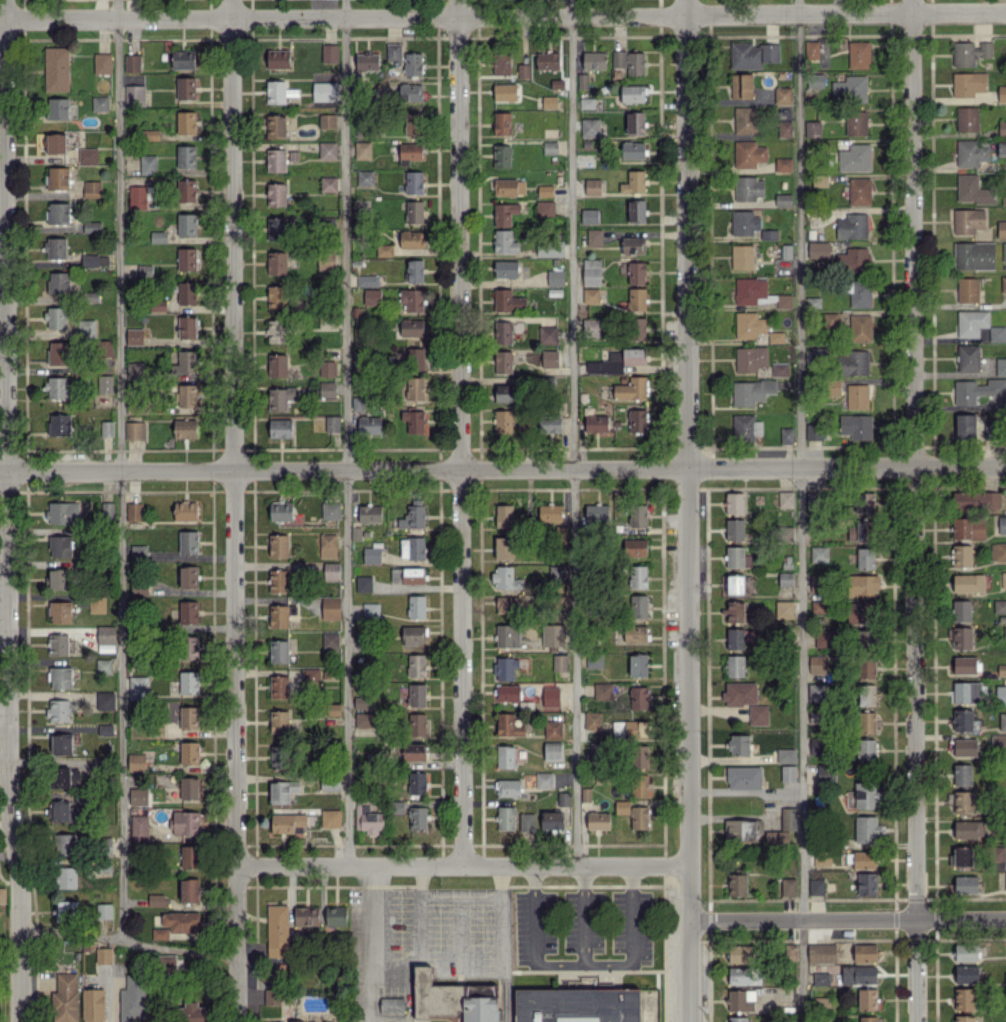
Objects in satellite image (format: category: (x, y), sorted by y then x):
road: (504, 15)
building: (811, 49)
building: (393, 51)
building: (969, 52)
building: (330, 53)
building: (752, 54)
building: (858, 54)
building: (278, 58)
building: (183, 59)
building: (594, 60)
building: (367, 61)
building: (547, 61)
building: (629, 61)
building: (132, 62)
building: (102, 63)
building: (501, 63)
building: (413, 64)
building: (56, 68)
building: (815, 80)
building: (968, 83)
building: (741, 86)
building: (185, 88)
building: (849, 89)
building: (278, 91)
building: (324, 91)
building: (411, 92)
building: (504, 92)
building: (632, 93)
building: (1001, 93)
building: (134, 95)
building: (782, 95)
building: (549, 102)
building: (99, 103)
building: (57, 108)
building: (967, 118)
building: (327, 120)
building: (744, 120)
building: (185, 122)
building: (635, 122)
building: (856, 122)
building: (413, 123)
building: (502, 123)
building: (276, 126)
building: (590, 127)
building: (1002, 127)
building: (784, 128)
building: (813, 129)
building: (150, 134)
building: (56, 143)
building: (549, 147)
building: (1001, 149)
building: (327, 150)
building: (362, 150)
building: (632, 150)
building: (410, 153)
building: (970, 153)
building: (749, 154)
building: (501, 155)
building: (88, 156)
building: (186, 156)
building: (855, 158)
building: (276, 160)
building: (148, 164)
building: (783, 164)
building: (365, 177)
building: (57, 178)
building: (413, 182)
building: (633, 182)
building: (328, 184)
building: (509, 187)
building: (592, 187)
building: (748, 188)
building: (92, 189)
building: (186, 190)
building: (545, 190)
building: (972, 190)
building: (859, 191)
building: (276, 194)
building: (140, 196)
building: (1004, 196)
building: (783, 200)
building: (544, 208)
building: (636, 210)
building: (414, 211)
building: (58, 212)
building: (504, 213)
building: (589, 216)
building: (968, 220)
building: (745, 222)
building: (186, 224)
building: (852, 226)
building: (92, 227)
building: (279, 228)
building: (1001, 229)
building: (158, 237)
building: (594, 237)
building: (411, 239)
building: (504, 241)
building: (633, 245)
building: (55, 247)
building: (550, 248)
building: (384, 250)
building: (820, 250)
building: (1004, 251)
building: (973, 255)
building: (742, 257)
building: (186, 259)
building: (857, 259)
building: (94, 260)
building: (277, 262)
building: (505, 268)
building: (144, 270)
building: (414, 270)
building: (591, 272)
building: (636, 273)
building: (555, 277)
building: (367, 280)
building: (58, 282)
building: (1003, 284)
building: (967, 289)
building: (752, 291)
building: (186, 293)
building: (859, 293)
building: (590, 295)
building: (277, 296)
building: (371, 296)
building: (412, 299)
building: (635, 299)
building: (506, 300)
building: (784, 301)
building: (55, 317)
building: (831, 319)
building: (971, 322)
building: (749, 325)
building: (186, 326)
building: (411, 327)
building: (590, 327)
building: (860, 327)
building: (88, 328)
building: (636, 328)
building: (277, 330)
building: (502, 332)
building: (547, 334)
building: (997, 334)
building: (134, 336)
building: (105, 348)
building: (59, 352)
building: (633, 356)
building: (549, 358)
building: (750, 358)
building: (968, 358)
building: (416, 359)
building: (185, 362)
building: (854, 362)
building: (607, 364)
building: (277, 365)
building: (1001, 367)
building: (327, 368)
building: (779, 369)
building: (134, 370)
building: (105, 384)
building: (56, 387)
building: (833, 387)
building: (415, 388)
building: (631, 388)
building: (327, 389)
building: (977, 390)
building: (506, 391)
building: (751, 391)
building: (189, 395)
building: (283, 396)
building: (857, 396)
building: (637, 420)
building: (413, 421)
building: (503, 421)
building: (332, 423)
building: (596, 423)
building: (59, 424)
building: (549, 424)
building: (369, 425)
building: (856, 426)
building: (965, 426)
building: (745, 427)
building: (107, 428)
building: (185, 428)
building: (280, 428)
building: (135, 430)
building: (813, 431)
building: (991, 431)
road: (346, 432)
road: (460, 432)
road: (572, 433)
building: (786, 435)
road: (503, 466)
road: (116, 469)
building: (785, 499)
building: (975, 500)
building: (734, 502)
building: (863, 502)
building: (107, 509)
building: (185, 510)
building: (330, 510)
road: (687, 510)
road: (800, 510)
road: (5, 511)
building: (134, 511)
road: (234, 511)
building: (280, 511)
road: (914, 511)
building: (63, 512)
building: (596, 512)
building: (369, 513)
building: (550, 513)
building: (413, 515)
building: (637, 515)
building: (504, 516)
building: (1002, 524)
building: (968, 528)
building: (734, 529)
building: (859, 532)
building: (188, 542)
building: (278, 545)
building: (327, 545)
building: (60, 546)
building: (412, 547)
building: (634, 547)
building: (998, 551)
building: (138, 552)
building: (819, 554)
building: (371, 555)
building: (961, 555)
building: (734, 556)
building: (865, 558)
building: (331, 570)
building: (556, 572)
building: (407, 575)
building: (188, 576)
building: (638, 576)
building: (505, 578)
building: (58, 579)
building: (785, 579)
building: (1003, 579)
building: (278, 580)
building: (968, 582)
building: (364, 583)
building: (735, 584)
building: (863, 585)
building: (97, 603)
building: (506, 604)
building: (638, 605)
building: (416, 606)
building: (999, 606)
building: (330, 607)
building: (819, 607)
building: (783, 609)
building: (961, 610)
building: (60, 611)
building: (735, 611)
building: (188, 612)
building: (858, 613)
building: (278, 615)
building: (635, 633)
building: (105, 634)
building: (413, 635)
building: (507, 635)
building: (553, 635)
building: (962, 637)
building: (735, 638)
building: (825, 638)
building: (865, 638)
building: (58, 641)
building: (330, 641)
building: (189, 647)
building: (106, 648)
building: (278, 651)
building: (594, 661)
building: (559, 662)
building: (819, 664)
building: (964, 664)
building: (416, 665)
building: (638, 665)
building: (735, 665)
building: (103, 666)
building: (865, 667)
building: (505, 668)
building: (1002, 669)
building: (311, 676)
building: (61, 677)
building: (189, 682)
building: (279, 686)
building: (138, 687)
building: (602, 690)
building: (507, 692)
building: (817, 692)
building: (968, 692)
building: (740, 693)
building: (416, 694)
building: (1000, 694)
building: (866, 695)
building: (550, 696)
building: (638, 697)
building: (105, 700)
building: (362, 702)
building: (331, 709)
building: (58, 710)
building: (758, 714)
building: (188, 717)
building: (364, 719)
building: (964, 720)
building: (279, 721)
building: (592, 721)
building: (1002, 721)
building: (866, 722)
building: (417, 724)
building: (508, 725)
building: (629, 728)
building: (105, 729)
building: (553, 729)
building: (998, 743)
building: (61, 744)
building: (738, 744)
building: (818, 746)
building: (965, 747)
building: (595, 750)
building: (866, 750)
building: (413, 751)
building: (189, 752)
building: (552, 752)
building: (785, 755)
building: (278, 756)
building: (505, 756)
building: (640, 756)
building: (136, 761)
building: (788, 773)
building: (962, 774)
building: (827, 775)
building: (64, 777)
building: (743, 777)
building: (544, 780)
building: (329, 782)
building: (416, 782)
building: (641, 785)
building: (508, 787)
building: (189, 788)
building: (282, 791)
building: (867, 795)
building: (138, 796)
building: (1005, 796)
building: (963, 801)
building: (64, 810)
building: (633, 813)
building: (505, 817)
building: (330, 818)
building: (417, 818)
building: (788, 818)
building: (368, 819)
building: (551, 820)
building: (598, 820)
building: (527, 821)
building: (186, 822)
building: (286, 822)
building: (140, 827)
building: (866, 829)
building: (968, 829)
building: (742, 830)
building: (777, 837)
building: (66, 843)
building: (189, 856)
building: (822, 857)
building: (961, 857)
building: (998, 857)
building: (864, 859)
road: (462, 865)
building: (66, 877)
building: (1005, 880)
road: (503, 882)
building: (866, 883)
building: (737, 884)
building: (965, 884)
building: (788, 886)
building: (816, 886)
building: (189, 890)
building: (2, 895)
road: (444, 899)
building: (157, 900)
building: (67, 911)
building: (103, 911)
road: (530, 914)
road: (579, 914)
building: (306, 915)
building: (335, 915)
road: (848, 918)
building: (181, 921)
building: (277, 930)
building: (160, 933)
road: (127, 940)
road: (366, 943)
building: (791, 952)
building: (865, 952)
building: (966, 952)
building: (740, 953)
building: (821, 953)
road: (417, 954)
building: (104, 955)
road: (504, 960)
road: (627, 963)
building: (165, 964)
building: (858, 974)
building: (966, 974)
building: (745, 975)
building: (1005, 977)
building: (820, 978)
road: (110, 993)
building: (272, 996)
building: (65, 998)
building: (454, 998)
building: (133, 999)
building: (741, 999)
building: (867, 999)
building: (964, 999)
building: (1005, 1004)
building: (93, 1005)
building: (392, 1005)
building: (585, 1005)
building: (193, 1012)
building: (738, 1019)
building: (868, 1019)
building: (964, 1019)
building: (304, 1021)

